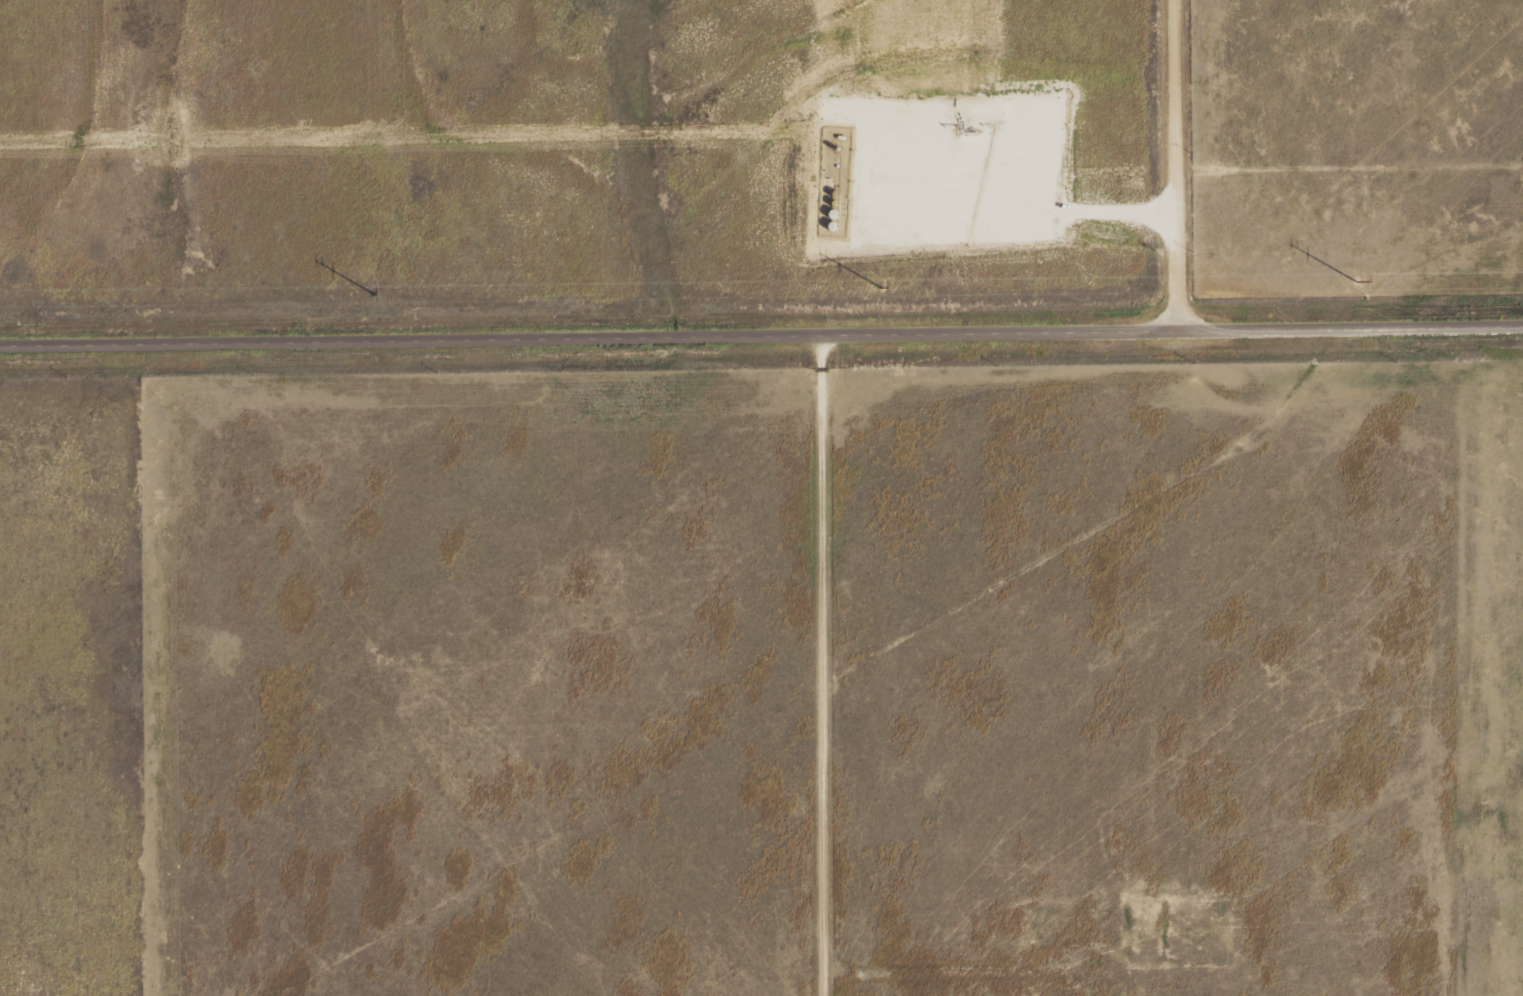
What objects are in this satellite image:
road: (1176, 164)
power tower: (1353, 281)
power tower: (880, 285)
power tower: (372, 295)
road: (761, 334)

